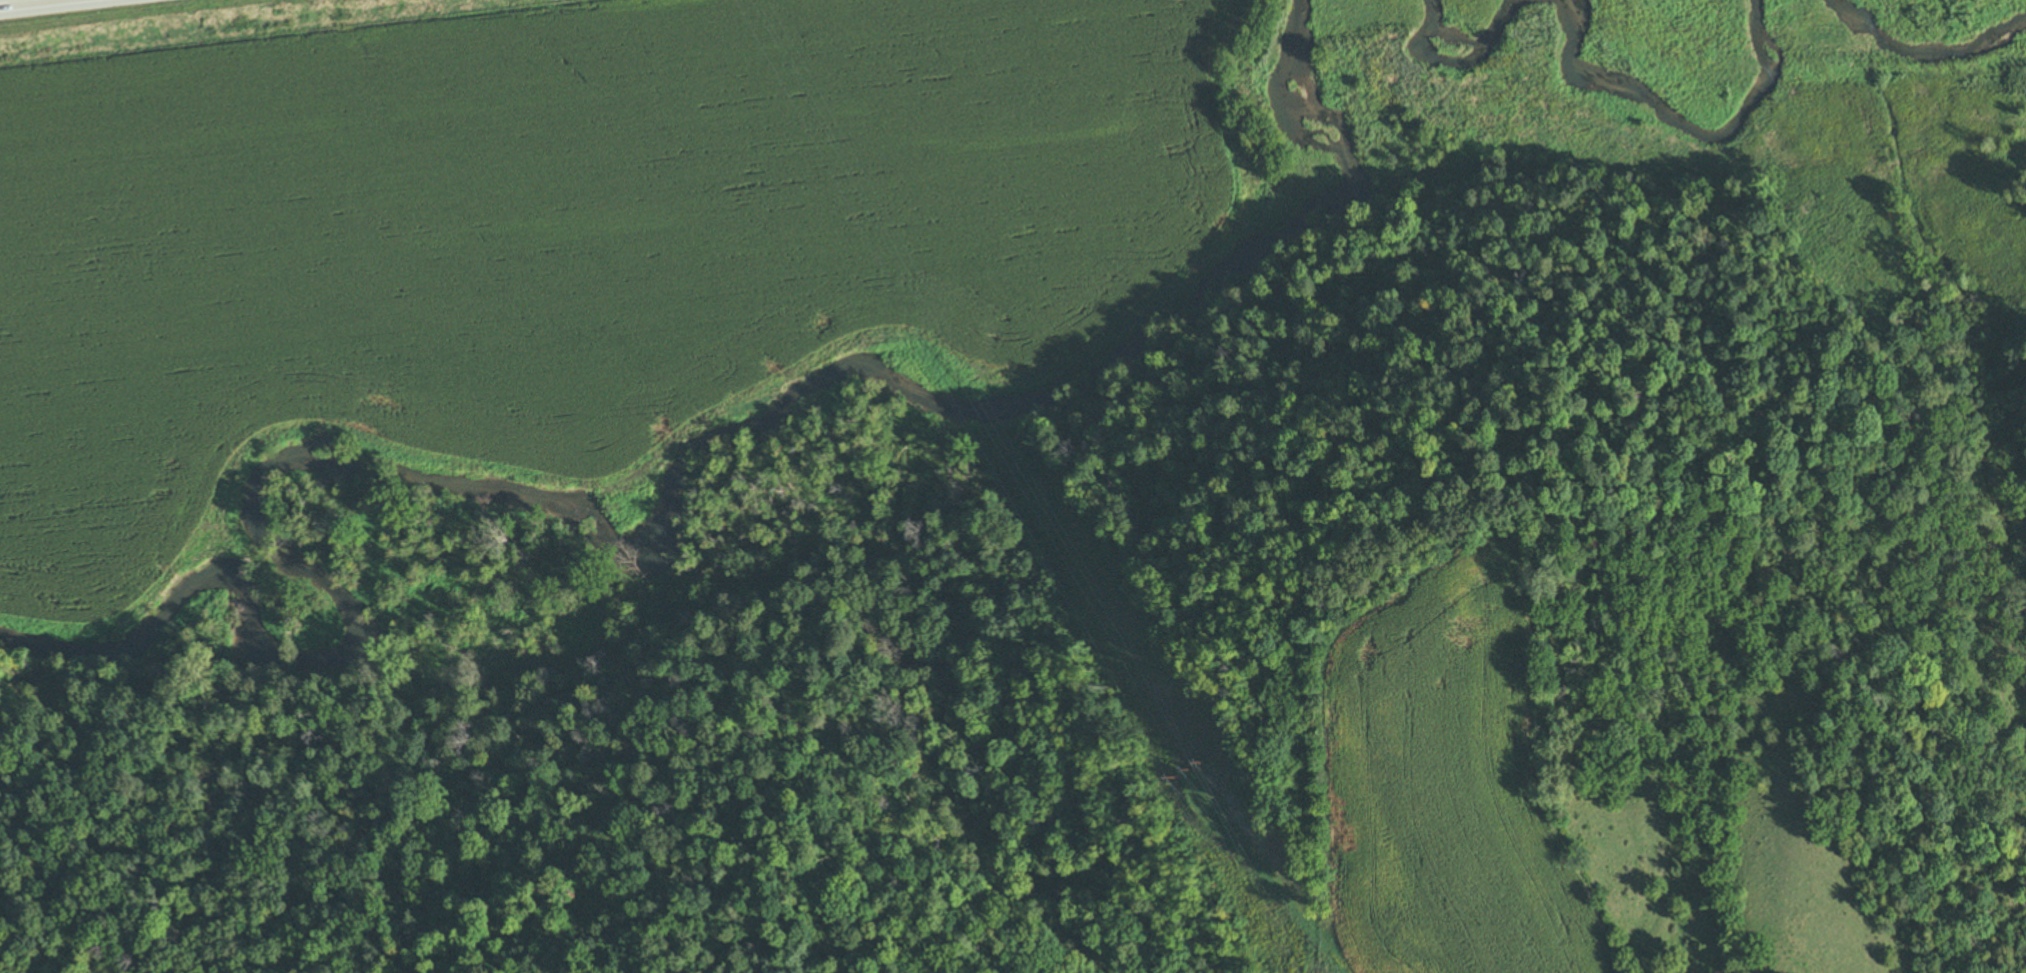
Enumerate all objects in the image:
road: (30, 3)

